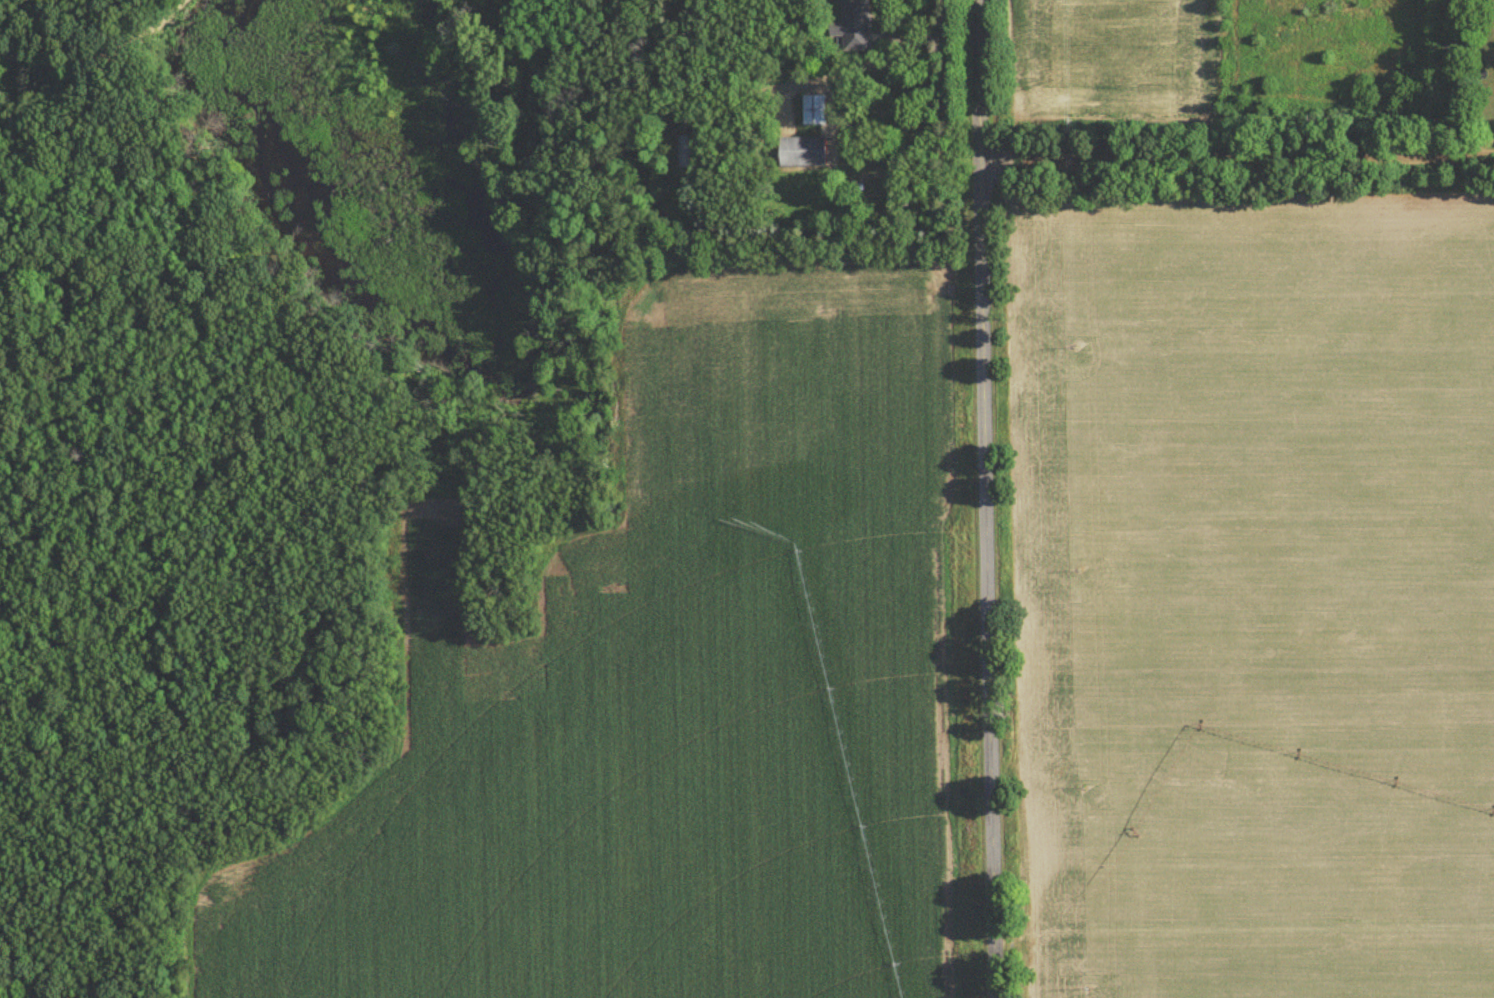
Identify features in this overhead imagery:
building: (1452, 2)
building: (854, 26)
building: (1445, 50)
road: (99, 53)
building: (816, 112)
building: (801, 154)
road: (1236, 156)
road: (985, 499)

